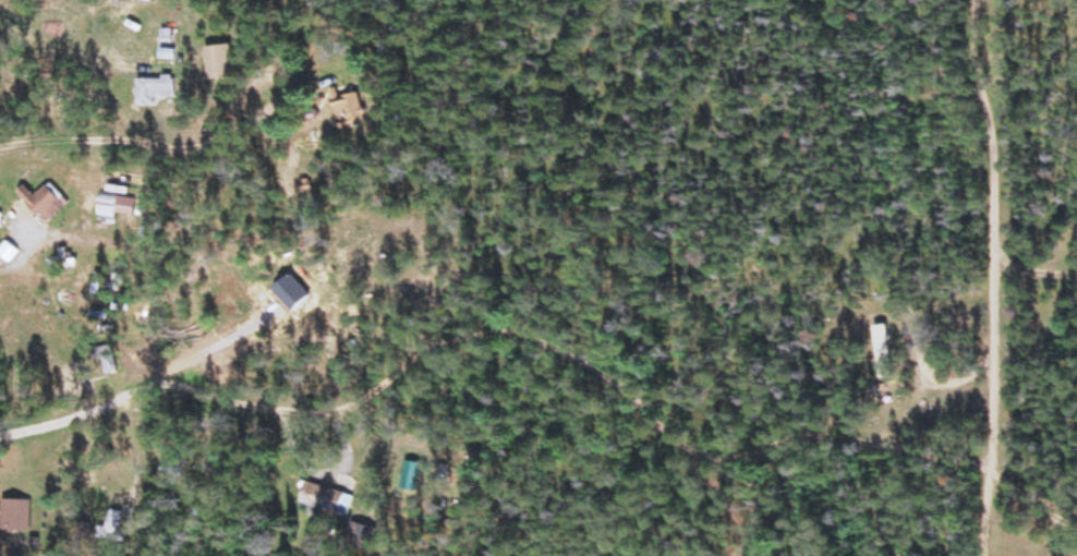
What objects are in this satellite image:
road: (59, 39)
building: (219, 63)
building: (155, 92)
building: (348, 109)
road: (174, 157)
building: (117, 205)
building: (366, 255)
building: (60, 261)
road: (1007, 278)
building: (883, 352)
building: (70, 378)
road: (191, 379)
building: (326, 500)
building: (116, 523)
building: (361, 537)

